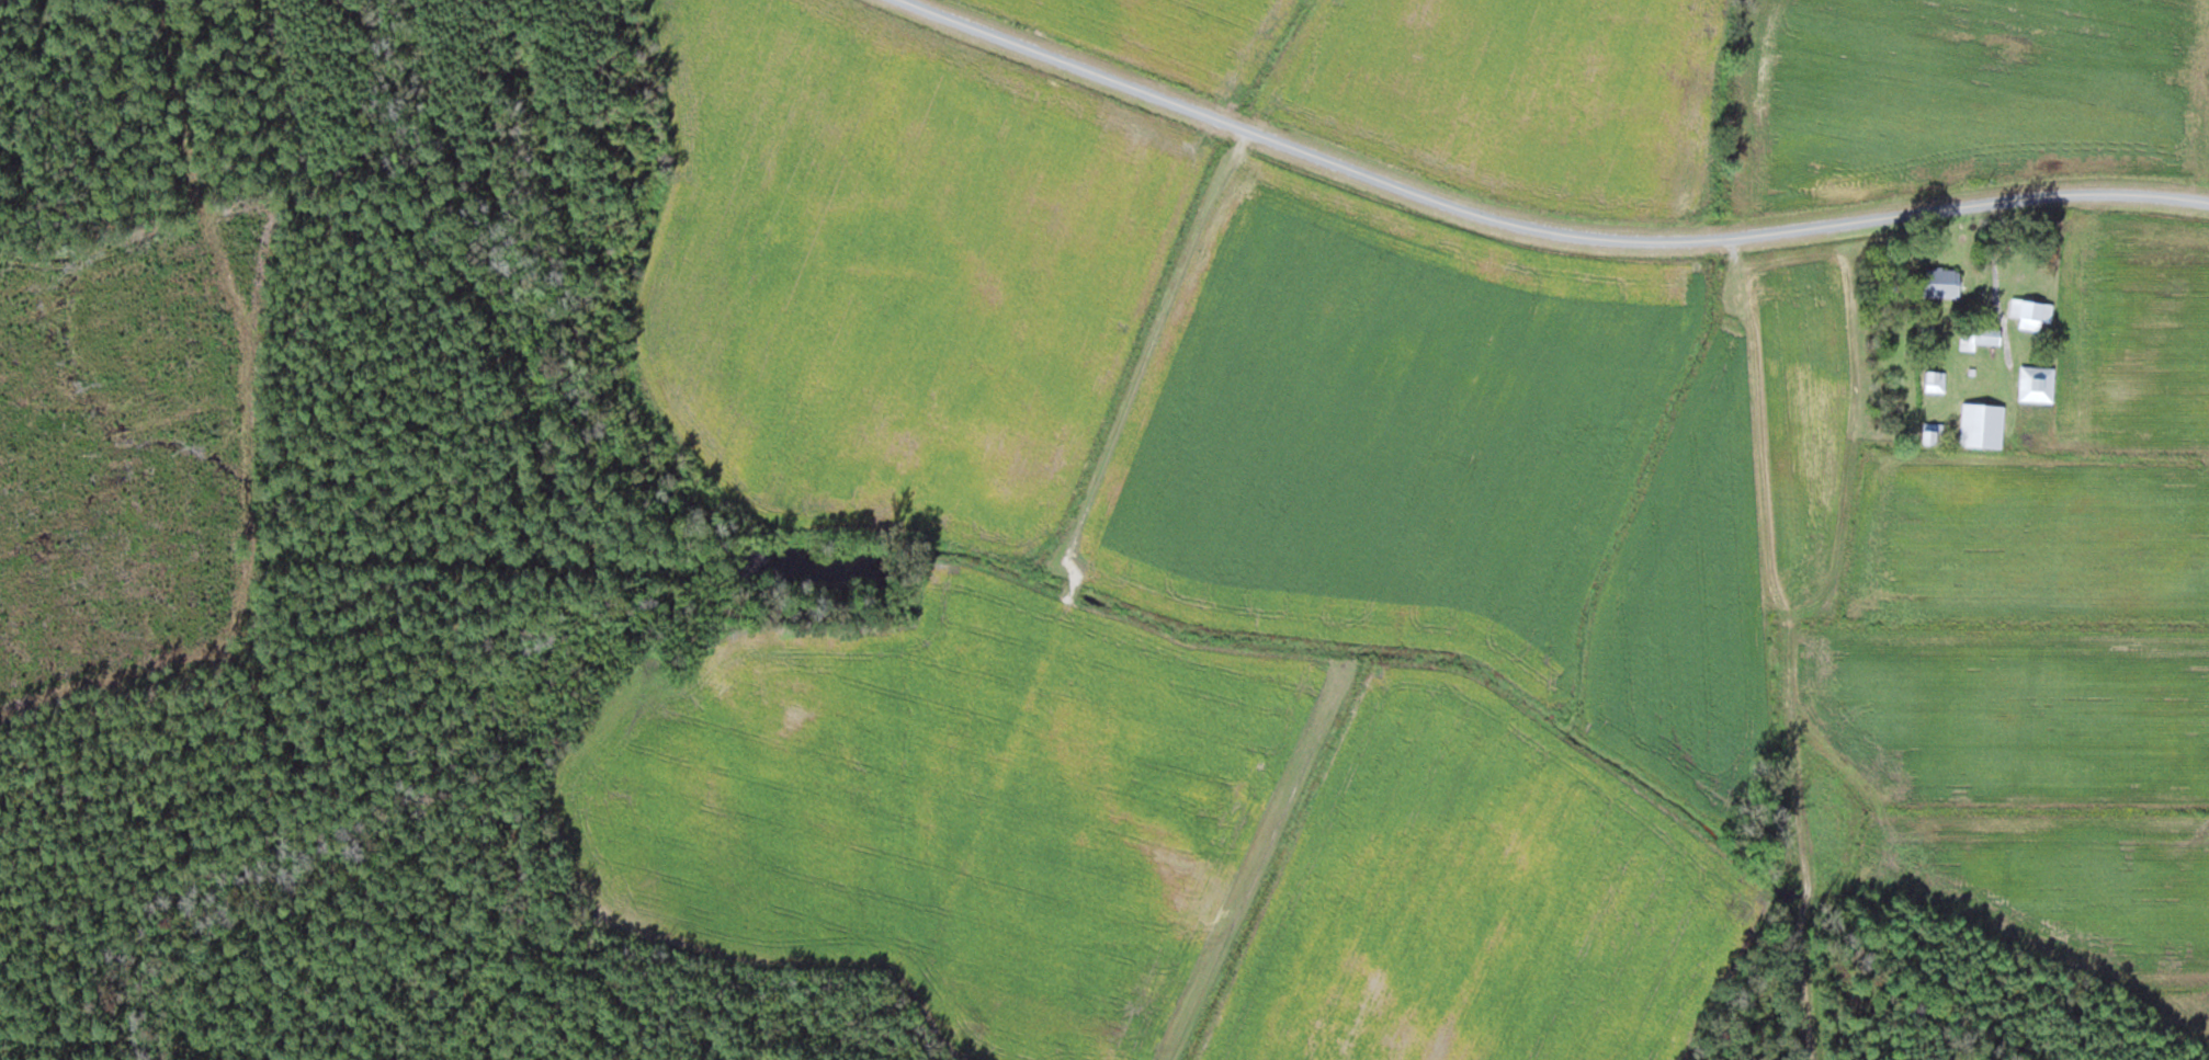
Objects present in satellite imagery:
road: (1538, 235)
building: (1942, 282)
building: (2032, 311)
building: (1980, 337)
building: (1937, 380)
building: (2038, 381)
building: (1984, 424)
building: (1934, 432)

